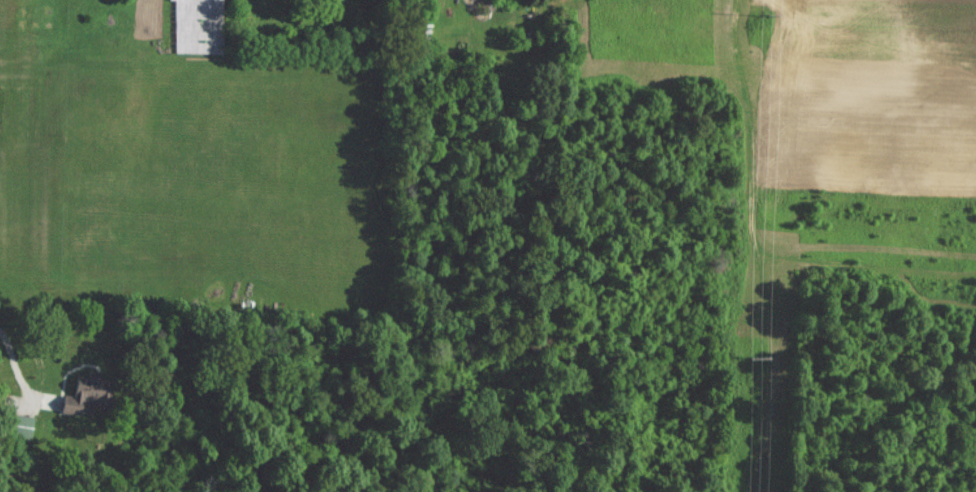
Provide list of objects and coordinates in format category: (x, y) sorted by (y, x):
road: (13, 365)
building: (92, 393)

